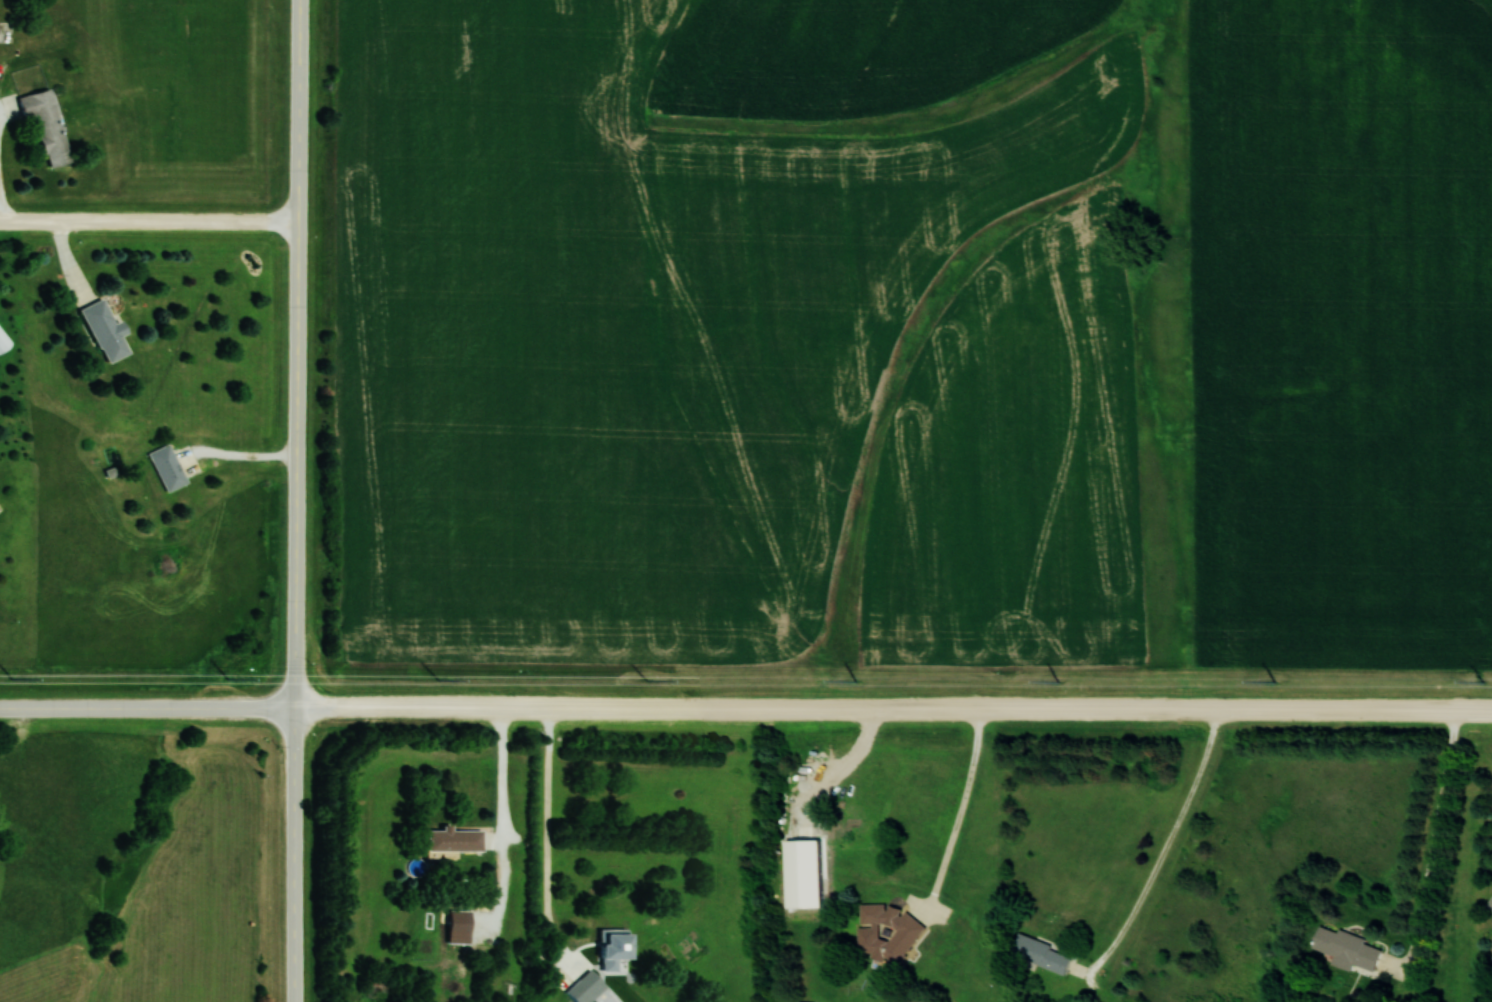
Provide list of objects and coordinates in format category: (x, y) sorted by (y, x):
building: (47, 123)
road: (148, 221)
building: (107, 332)
building: (4, 342)
building: (168, 467)
road: (295, 500)
power tower: (12, 679)
power tower: (228, 679)
power tower: (437, 680)
power tower: (649, 680)
power tower: (1274, 681)
power tower: (1483, 681)
power tower: (856, 682)
power tower: (1059, 682)
road: (147, 708)
road: (893, 708)
road: (501, 774)
road: (964, 797)
road: (546, 836)
road: (1170, 838)
building: (455, 839)
road: (1434, 839)
building: (1490, 904)
building: (890, 933)
building: (617, 945)
building: (1347, 948)
building: (590, 984)
building: (808, 1001)

